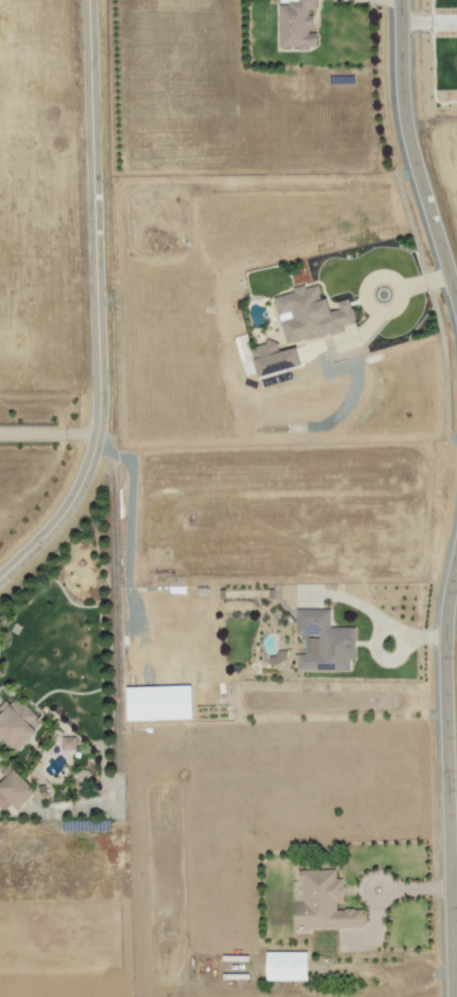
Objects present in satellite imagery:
building: (295, 25)
crop: (433, 113)
road: (412, 156)
road: (374, 277)
road: (94, 304)
building: (309, 314)
building: (272, 359)
road: (47, 435)
crop: (284, 520)
building: (323, 642)
building: (158, 703)
building: (16, 724)
building: (67, 743)
road: (446, 771)
building: (13, 789)
road: (452, 870)
road: (375, 881)
road: (417, 889)
building: (321, 902)
road: (369, 936)
building: (285, 966)

